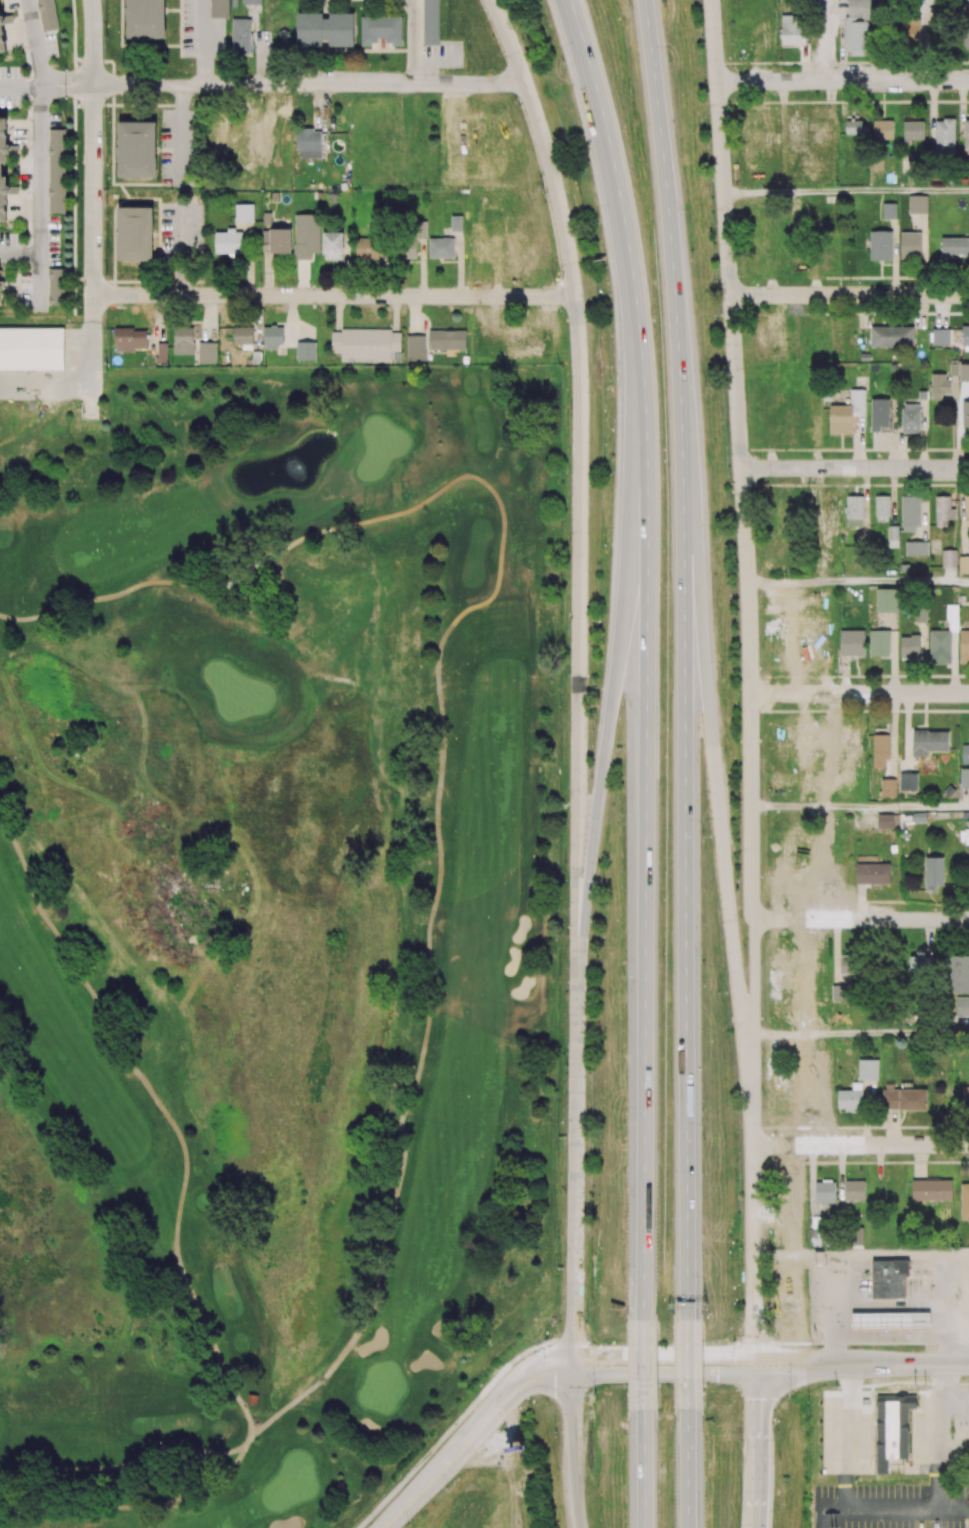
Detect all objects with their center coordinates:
road: (204, 42)
road: (412, 42)
road: (36, 43)
road: (772, 59)
street lamp: (561, 61)
street lamp: (671, 61)
road: (882, 82)
road: (286, 84)
road: (20, 86)
road: (54, 87)
road: (81, 87)
street lamp: (733, 104)
road: (181, 133)
road: (490, 146)
road: (94, 147)
road: (41, 172)
road: (887, 191)
road: (616, 197)
road: (808, 207)
street lamp: (598, 222)
street lamp: (691, 224)
road: (179, 251)
road: (20, 257)
street lamp: (740, 275)
street lamp: (554, 280)
road: (41, 283)
road: (302, 295)
road: (908, 295)
road: (94, 322)
road: (79, 349)
building: (32, 351)
street lamp: (610, 381)
street lamp: (707, 386)
road: (66, 387)
street lamp: (570, 410)
road: (884, 467)
street lamp: (798, 478)
street lamp: (753, 491)
street lamp: (570, 539)
street lamp: (715, 541)
street lamp: (607, 544)
road: (838, 581)
street lamp: (760, 596)
road: (560, 635)
road: (809, 669)
street lamp: (568, 674)
street lamp: (761, 675)
street lamp: (722, 677)
road: (794, 681)
street lamp: (595, 687)
road: (614, 689)
road: (903, 693)
road: (442, 713)
street lamp: (568, 801)
road: (894, 805)
street lamp: (621, 814)
street lamp: (704, 837)
street lamp: (762, 876)
street lamp: (605, 882)
road: (815, 914)
road: (892, 919)
park: (263, 928)
street lamp: (568, 935)
street lamp: (704, 961)
street lamp: (623, 976)
street lamp: (718, 992)
road: (887, 1035)
street lamp: (565, 1065)
road: (165, 1114)
street lamp: (623, 1124)
street lamp: (704, 1140)
road: (890, 1144)
street lamp: (763, 1168)
road: (576, 1173)
street lamp: (564, 1192)
street lamp: (743, 1246)
road: (891, 1257)
building: (890, 1281)
street lamp: (625, 1283)
street lamp: (706, 1292)
street lamp: (763, 1309)
building: (892, 1323)
street lamp: (546, 1338)
street lamp: (820, 1339)
street lamp: (736, 1341)
road: (767, 1343)
road: (873, 1343)
road: (665, 1346)
road: (522, 1352)
road: (686, 1365)
road: (643, 1366)
traffic signals: (757, 1366)
road: (771, 1366)
traffic signals: (575, 1368)
street lamp: (916, 1385)
street lamp: (594, 1395)
street lamp: (791, 1399)
building: (253, 1401)
road: (498, 1409)
street lamp: (503, 1426)
street lamp: (952, 1427)
road: (758, 1428)
street lamp: (820, 1429)
building: (893, 1429)
street lamp: (555, 1431)
street lamp: (626, 1435)
road: (248, 1440)
street lamp: (708, 1444)
road: (573, 1448)
street lamp: (780, 1458)
road: (421, 1460)
road: (125, 1467)
road: (687, 1469)
road: (644, 1470)
street lamp: (445, 1488)
park: (486, 1500)
road: (410, 1502)
road: (133, 1508)
road: (757, 1509)
road: (890, 1510)
street lamp: (409, 1523)

